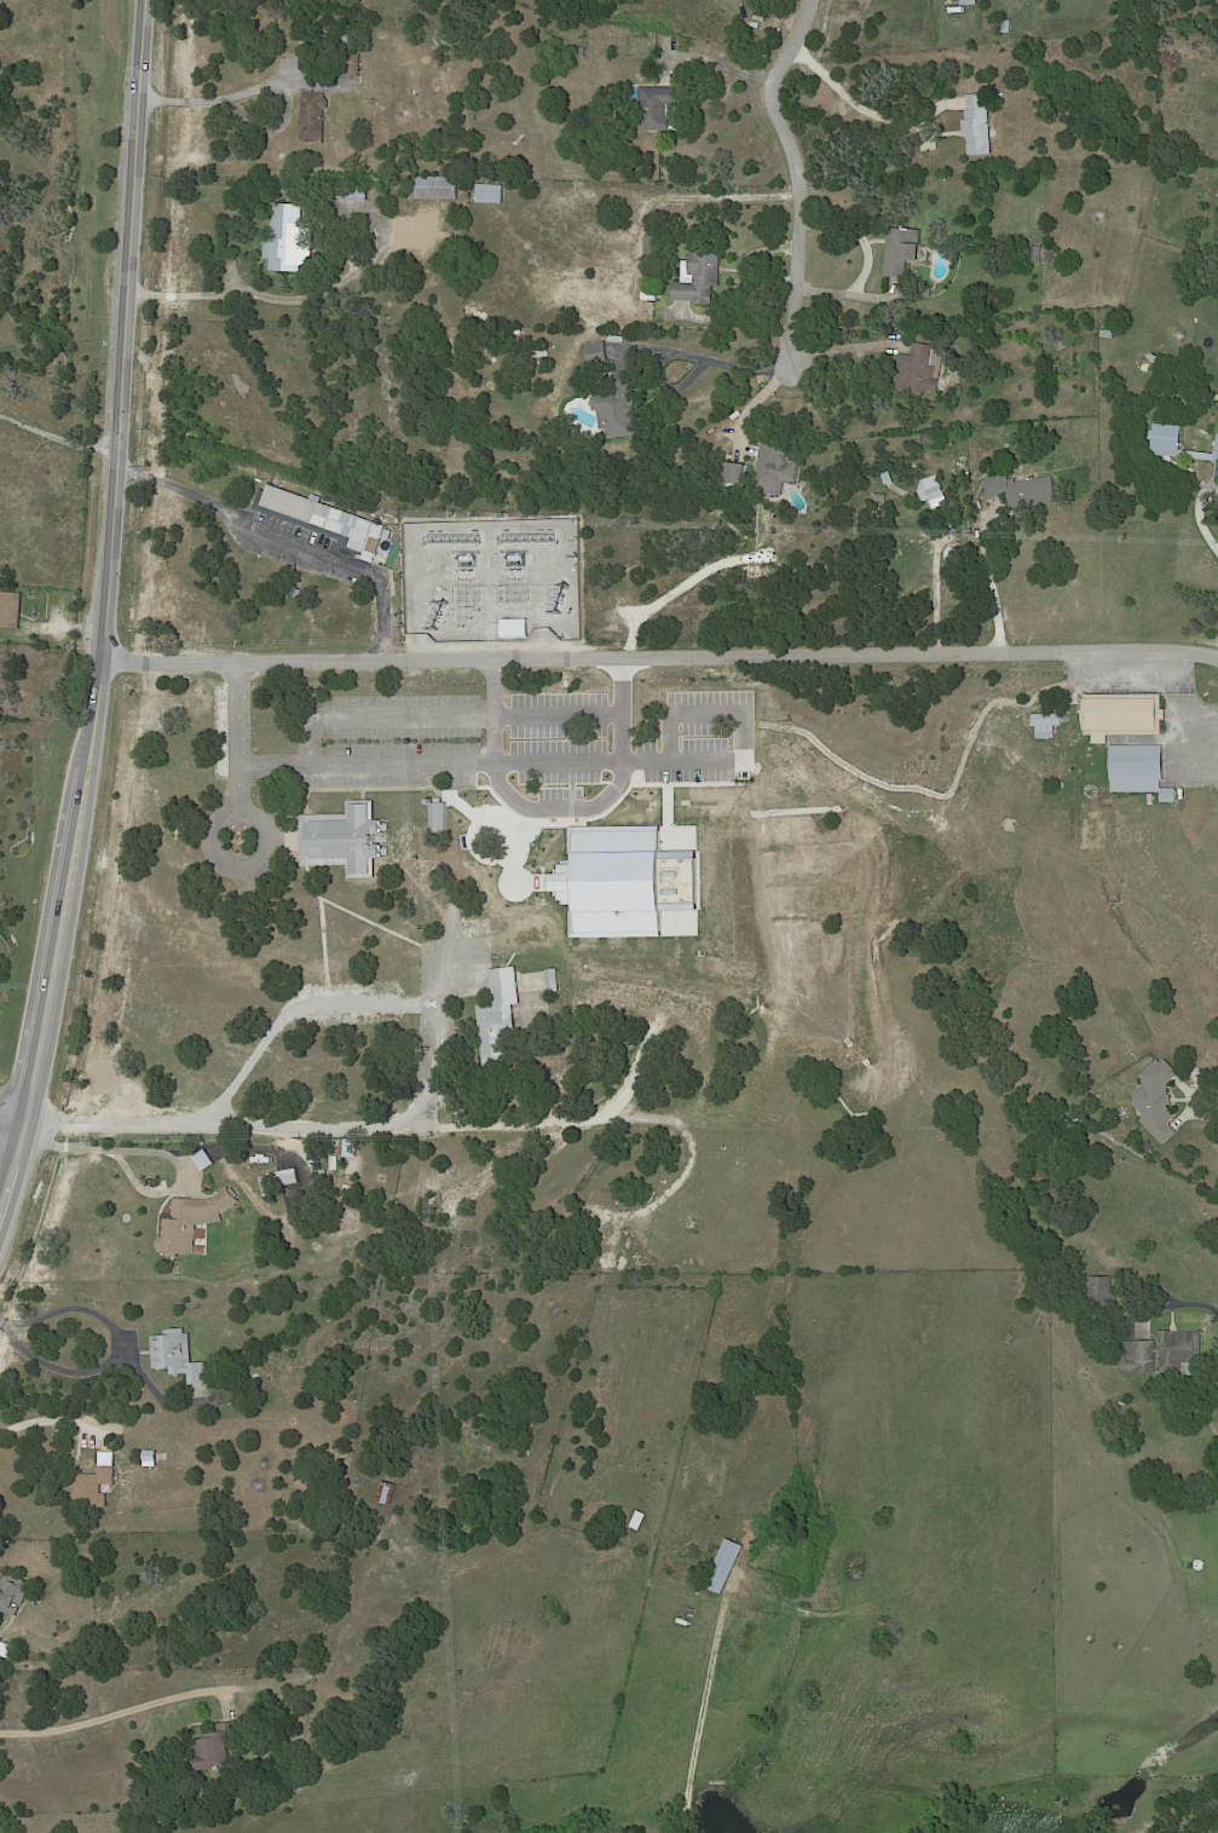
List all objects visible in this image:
building: (968, 2)
building: (1006, 25)
building: (582, 52)
building: (353, 65)
road: (227, 97)
road: (861, 104)
building: (657, 110)
building: (1063, 110)
building: (316, 117)
building: (976, 126)
building: (1193, 177)
road: (797, 180)
building: (440, 188)
building: (354, 194)
building: (492, 194)
building: (293, 240)
building: (900, 250)
building: (1035, 256)
building: (698, 279)
road: (243, 292)
building: (927, 293)
building: (652, 295)
building: (640, 311)
building: (1107, 334)
building: (928, 338)
road: (844, 346)
building: (491, 352)
building: (596, 353)
road: (712, 358)
building: (1154, 359)
road: (693, 361)
building: (918, 370)
building: (617, 408)
road: (57, 433)
building: (1167, 440)
building: (679, 453)
building: (1216, 456)
power tower: (150, 465)
building: (775, 471)
building: (737, 473)
building: (983, 473)
building: (885, 479)
building: (1022, 491)
building: (933, 494)
building: (974, 495)
building: (881, 497)
road: (1200, 512)
building: (319, 519)
road: (288, 530)
building: (387, 534)
power substation: (492, 577)
road: (998, 581)
building: (295, 593)
road: (933, 594)
building: (11, 609)
road: (103, 618)
building: (514, 628)
road: (660, 655)
road: (493, 704)
building: (1121, 714)
power tower: (791, 720)
building: (1047, 725)
road: (607, 751)
road: (317, 755)
building: (1141, 769)
building: (438, 814)
building: (344, 840)
power tower: (1121, 900)
building: (524, 936)
building: (612, 950)
building: (552, 981)
road: (298, 1004)
building: (496, 1015)
building: (630, 1048)
building: (1155, 1100)
road: (16, 1106)
road: (1196, 1108)
road: (288, 1128)
road: (12, 1135)
building: (221, 1146)
road: (115, 1149)
building: (201, 1158)
building: (209, 1160)
building: (281, 1180)
building: (195, 1221)
building: (1101, 1291)
road: (1197, 1302)
building: (331, 1319)
road: (1, 1320)
road: (121, 1348)
building: (1161, 1353)
building: (180, 1356)
road: (47, 1419)
building: (97, 1487)
building: (383, 1491)
building: (391, 1493)
building: (722, 1567)
building: (13, 1592)
building: (6, 1649)
road: (119, 1717)
building: (220, 1747)

